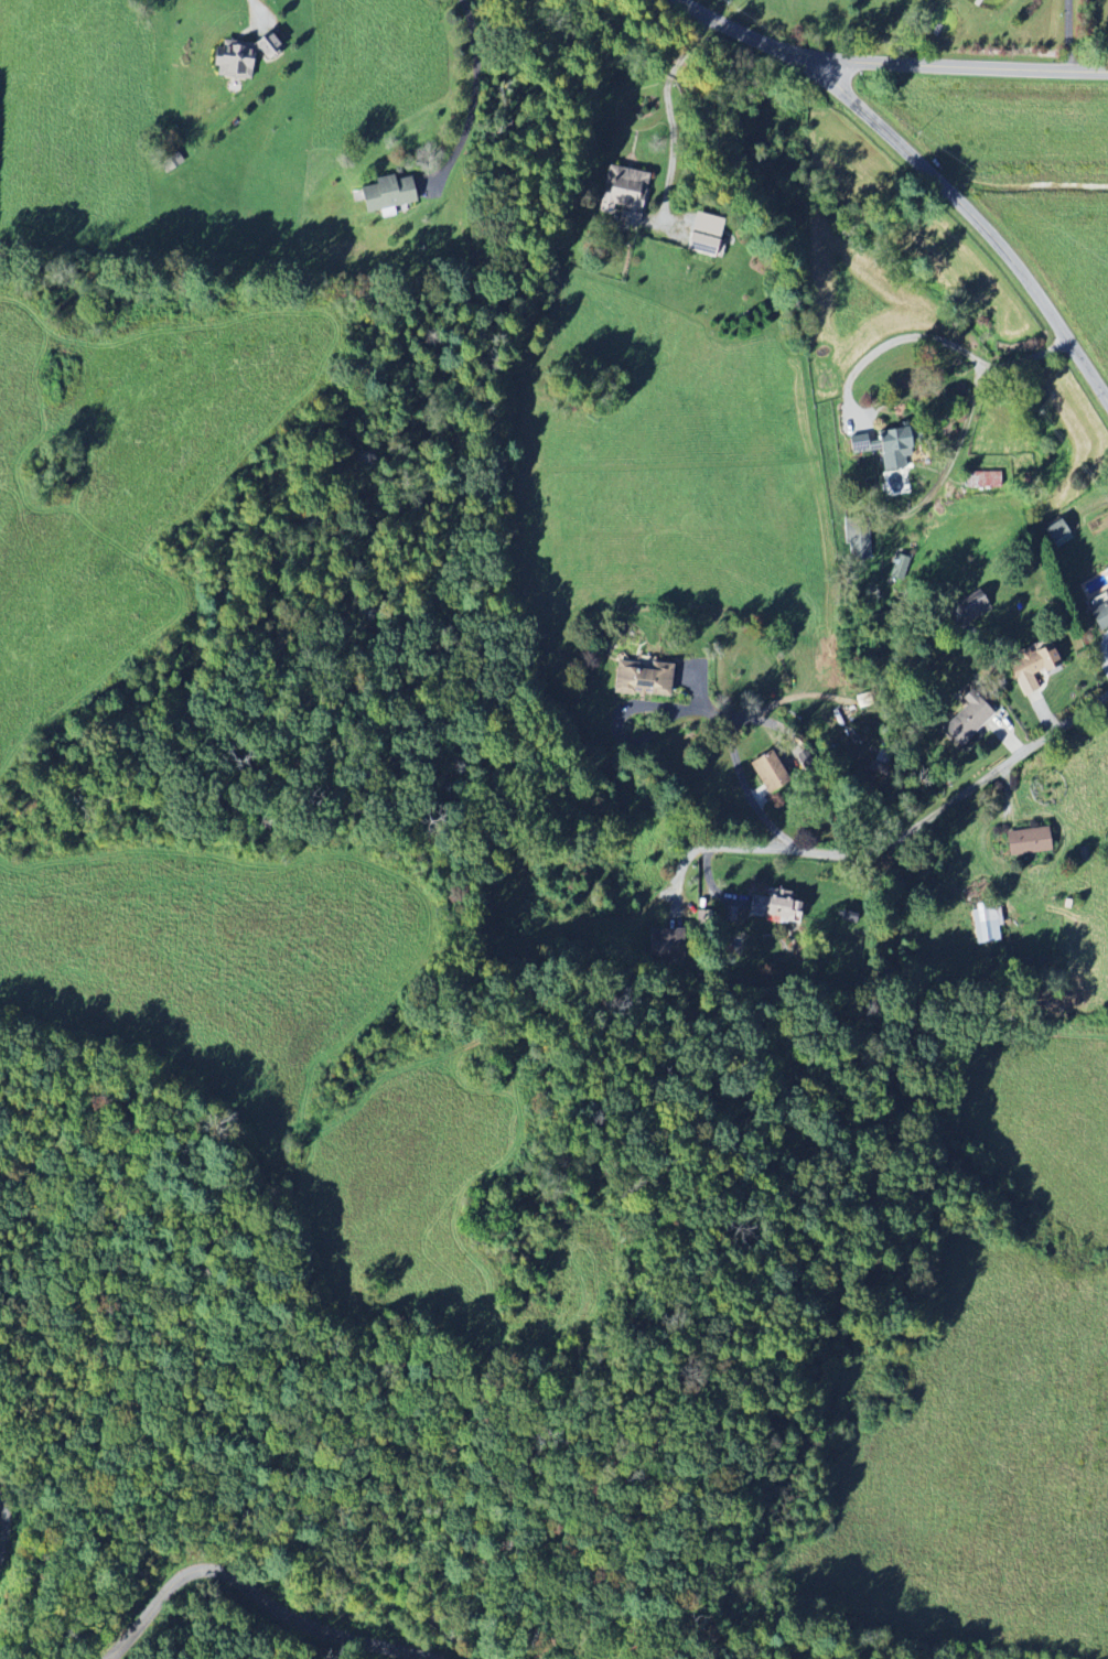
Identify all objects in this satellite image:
road: (257, 10)
road: (1068, 37)
building: (229, 60)
road: (884, 61)
road: (474, 103)
road: (669, 111)
building: (383, 195)
building: (621, 195)
road: (970, 207)
building: (703, 235)
road: (937, 341)
building: (854, 444)
building: (889, 449)
building: (981, 481)
building: (1055, 534)
building: (856, 547)
building: (897, 569)
building: (967, 611)
building: (1099, 613)
building: (1030, 661)
building: (639, 677)
road: (784, 700)
road: (696, 708)
building: (965, 721)
building: (775, 766)
road: (903, 834)
building: (1024, 842)
building: (774, 906)
building: (983, 926)
building: (658, 942)
road: (247, 1582)

